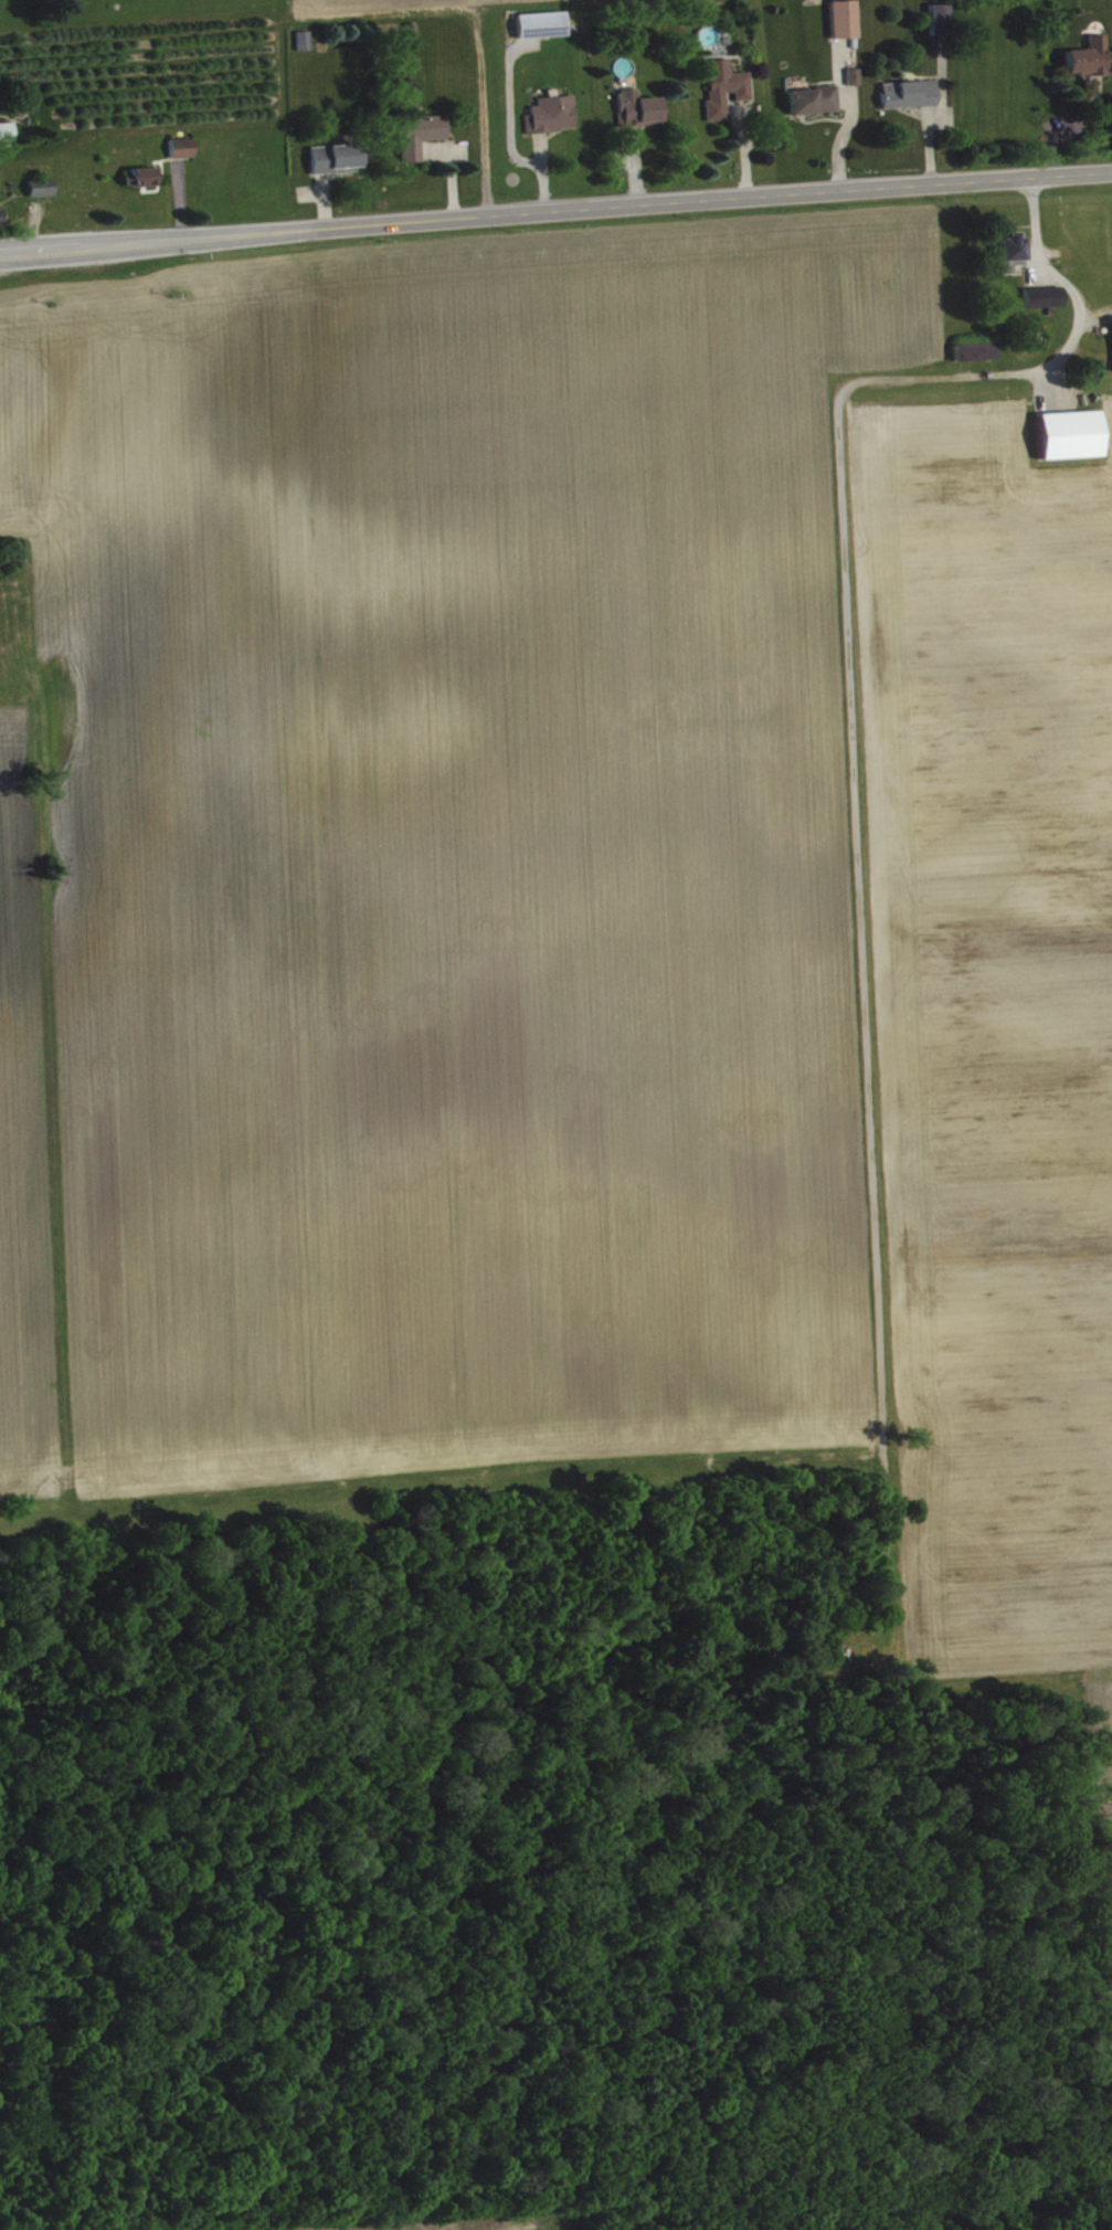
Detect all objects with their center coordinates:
building: (74, 9)
building: (846, 24)
building: (942, 24)
building: (543, 30)
building: (306, 45)
building: (1089, 63)
building: (856, 82)
building: (727, 93)
building: (911, 99)
building: (815, 106)
building: (640, 114)
building: (554, 119)
building: (8, 137)
building: (423, 139)
building: (183, 154)
building: (338, 163)
building: (140, 183)
building: (43, 192)
road: (555, 211)
building: (2, 223)
building: (1013, 257)
road: (1062, 284)
building: (1045, 303)
building: (977, 357)
building: (1070, 441)

